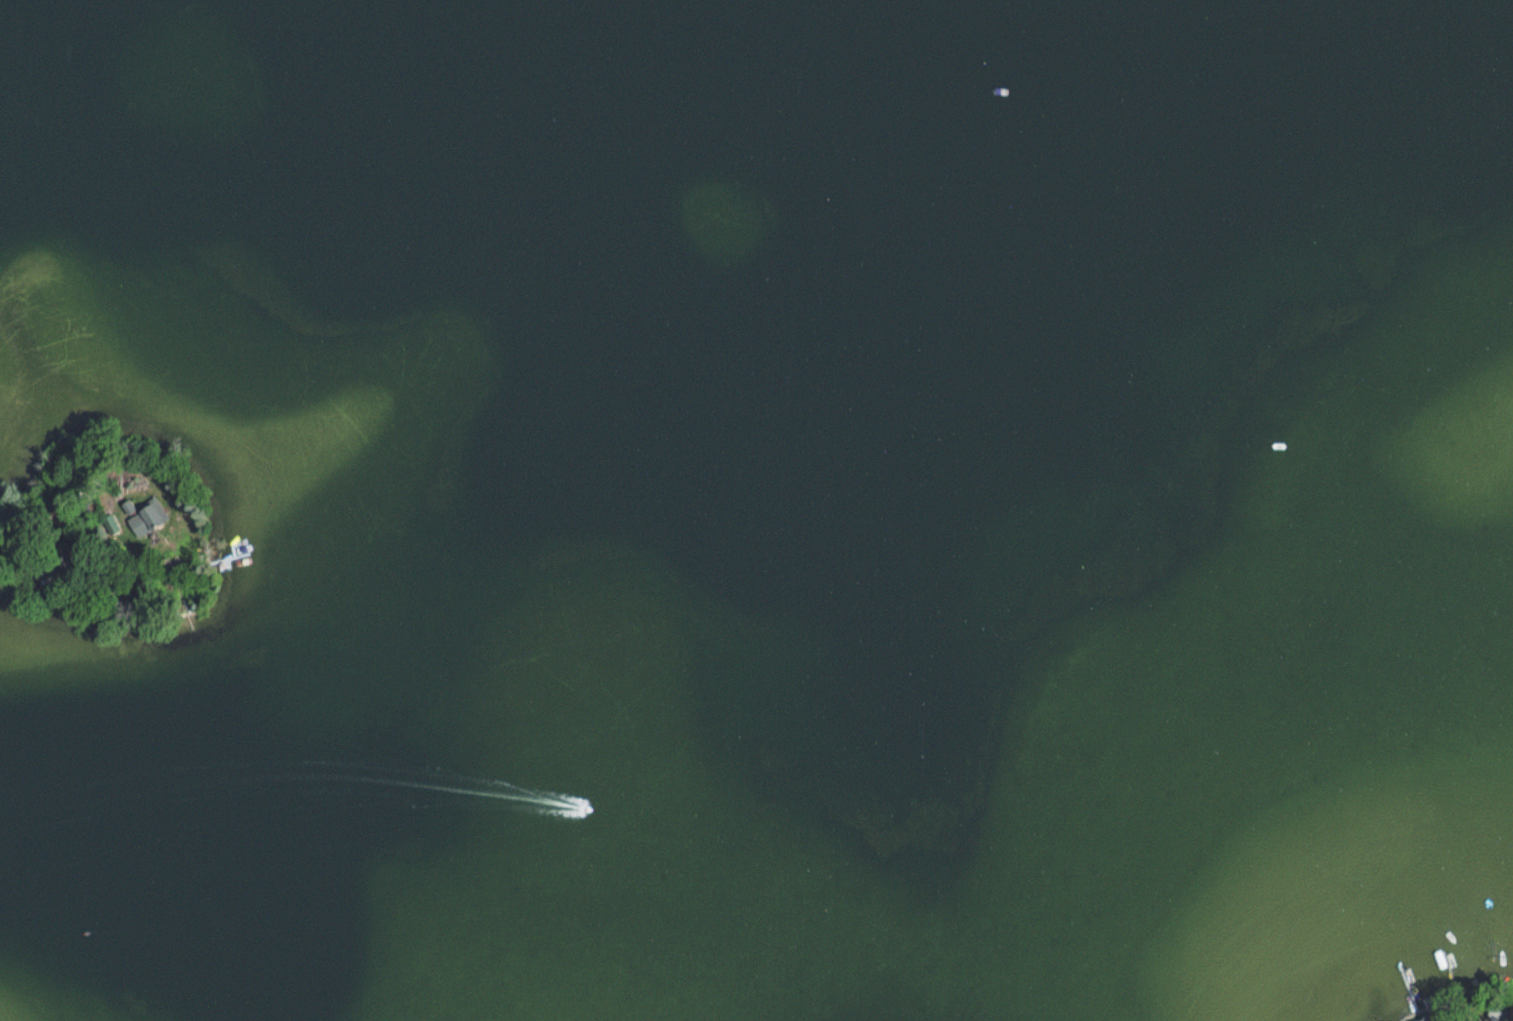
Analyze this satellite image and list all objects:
building: (1425, 1018)

